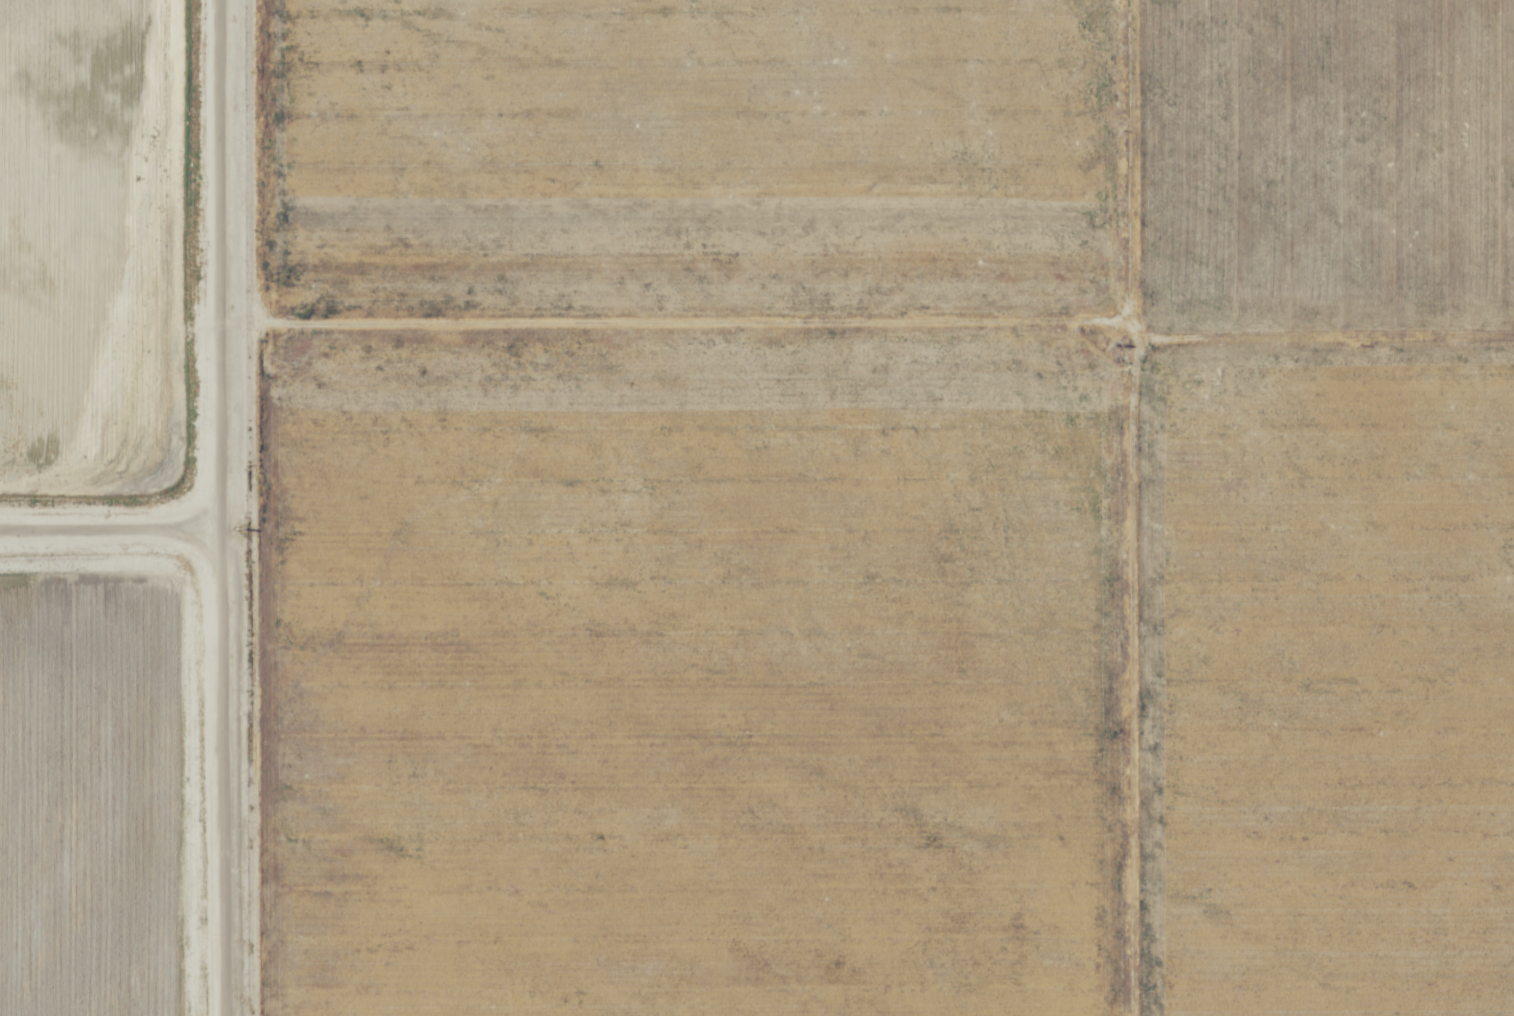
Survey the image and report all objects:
wastewater plant: (98, 245)
crop: (888, 507)
road: (221, 508)
wastewater plant: (132, 509)
road: (110, 517)
wastewater plant: (93, 790)

